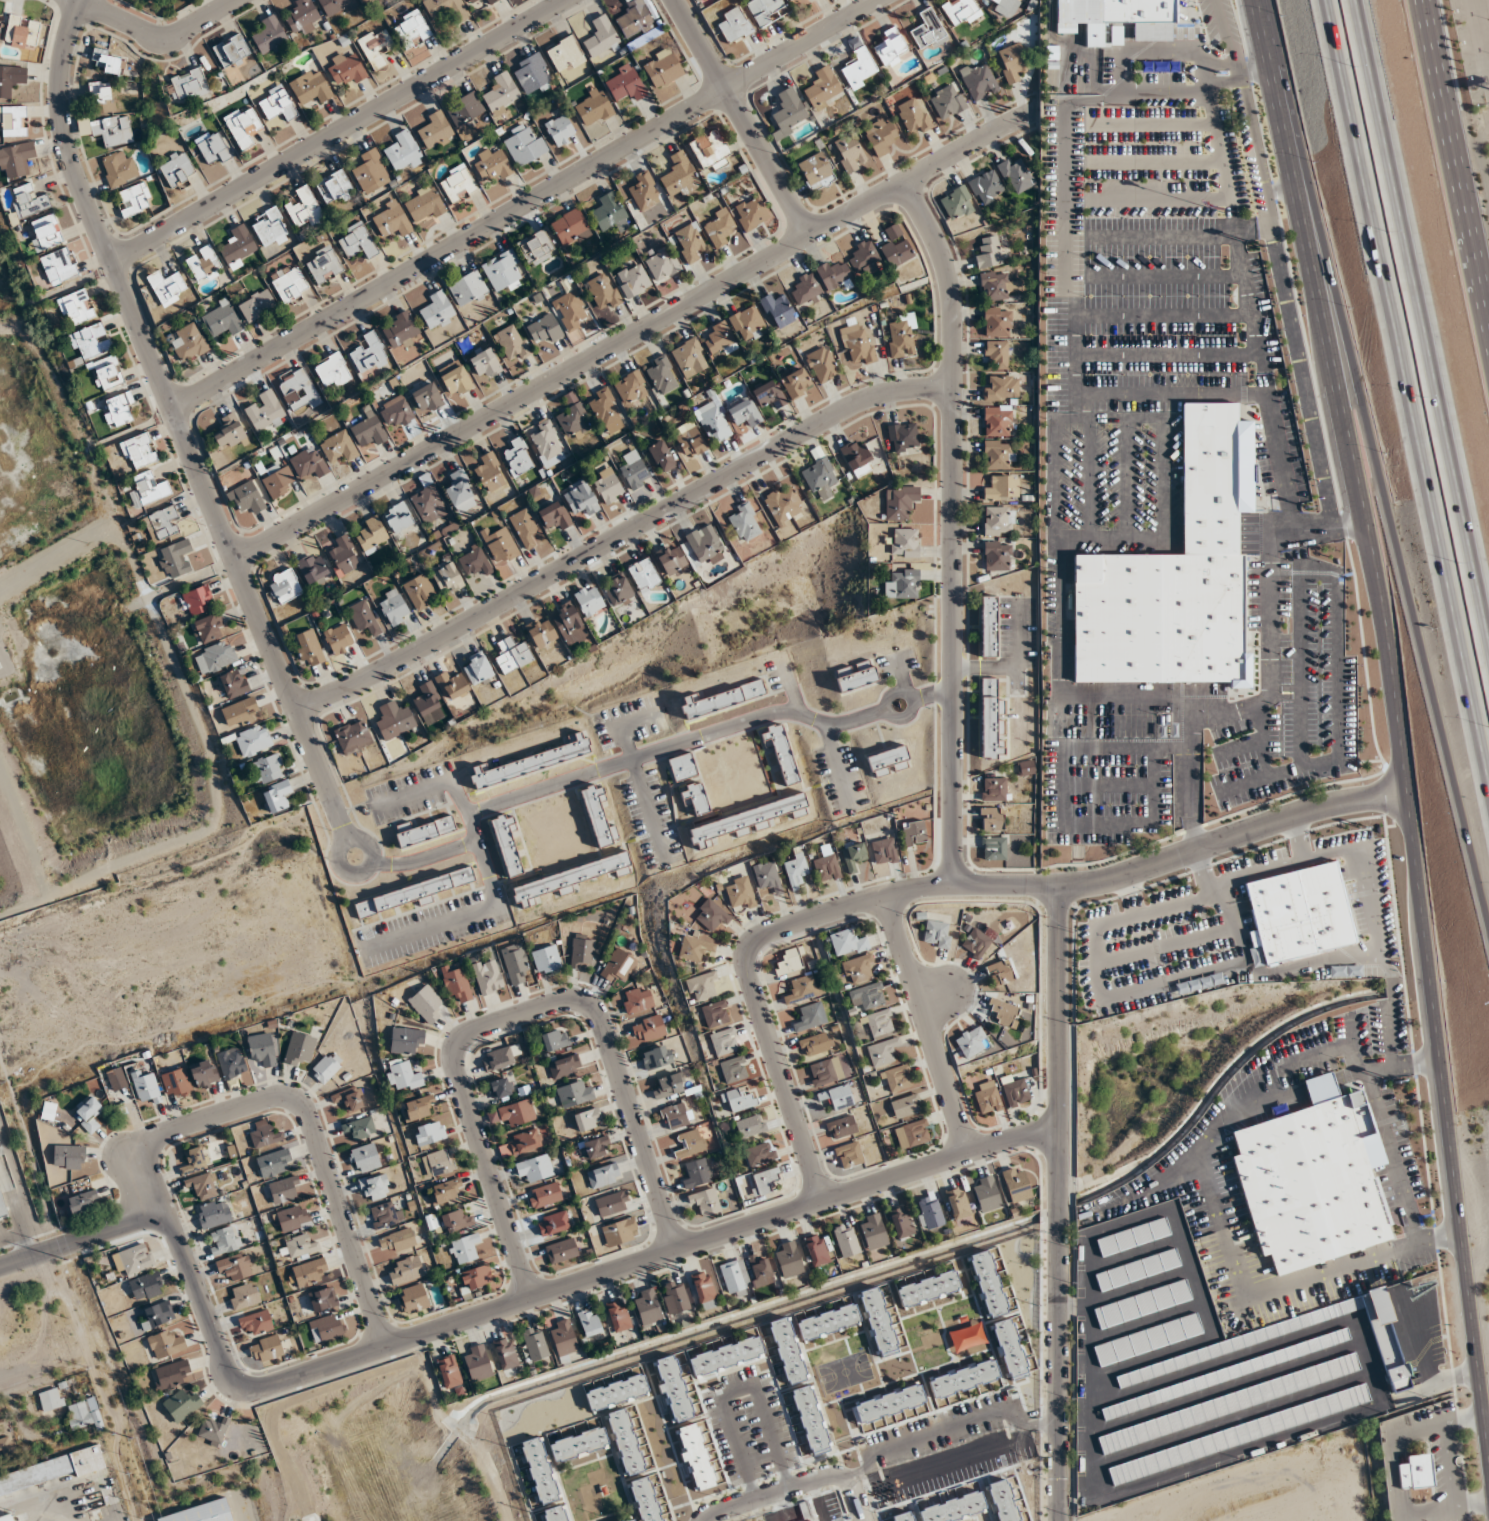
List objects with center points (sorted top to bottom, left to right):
building: (472, 1)
building: (489, 2)
building: (1003, 2)
building: (336, 6)
building: (446, 8)
building: (763, 9)
building: (960, 10)
building: (1121, 15)
building: (302, 16)
building: (635, 20)
building: (735, 25)
building: (411, 29)
building: (928, 31)
building: (21, 33)
building: (269, 34)
road: (158, 36)
road: (1226, 37)
road: (1263, 37)
building: (601, 38)
road: (1478, 43)
building: (376, 47)
building: (892, 47)
building: (232, 50)
building: (565, 54)
building: (108, 61)
building: (1012, 62)
building: (346, 68)
building: (662, 68)
building: (860, 68)
building: (533, 74)
road: (1122, 74)
road: (1256, 74)
building: (979, 79)
building: (11, 80)
building: (625, 83)
building: (189, 84)
building: (311, 86)
building: (822, 88)
building: (501, 91)
building: (100, 93)
building: (947, 101)
building: (276, 104)
building: (593, 107)
building: (464, 108)
building: (787, 111)
building: (914, 116)
road: (740, 117)
building: (13, 121)
building: (242, 126)
road: (335, 129)
building: (112, 130)
building: (436, 130)
building: (560, 130)
building: (882, 137)
building: (524, 145)
building: (214, 148)
building: (710, 150)
building: (403, 152)
building: (850, 153)
building: (16, 159)
road: (1064, 160)
road: (1457, 160)
building: (492, 163)
building: (177, 168)
building: (118, 169)
building: (371, 170)
building: (816, 171)
building: (1016, 174)
building: (679, 175)
road: (1226, 180)
building: (457, 183)
building: (334, 186)
building: (986, 187)
building: (645, 191)
building: (133, 200)
building: (28, 201)
road: (523, 203)
building: (956, 203)
building: (424, 204)
building: (305, 208)
building: (751, 212)
building: (611, 213)
building: (392, 220)
building: (570, 228)
building: (719, 228)
building: (270, 229)
building: (46, 232)
building: (357, 240)
building: (690, 241)
building: (897, 244)
building: (238, 247)
building: (536, 248)
building: (988, 252)
building: (864, 257)
building: (204, 264)
building: (323, 264)
building: (662, 265)
building: (59, 266)
building: (503, 271)
building: (834, 275)
building: (633, 279)
building: (289, 284)
building: (997, 285)
building: (166, 286)
building: (468, 289)
road: (813, 289)
road: (1076, 289)
building: (806, 290)
building: (603, 292)
road: (1290, 301)
road: (1425, 303)
building: (256, 305)
building: (76, 307)
building: (437, 310)
building: (570, 310)
building: (778, 310)
building: (221, 318)
building: (997, 322)
building: (747, 323)
building: (544, 328)
building: (401, 330)
road: (628, 335)
building: (718, 337)
building: (901, 337)
building: (88, 341)
building: (511, 341)
building: (188, 342)
building: (857, 343)
building: (997, 353)
building: (370, 354)
building: (689, 357)
building: (485, 363)
building: (823, 364)
building: (332, 370)
building: (107, 372)
building: (661, 374)
building: (455, 378)
building: (796, 383)
building: (630, 387)
building: (1000, 388)
building: (297, 389)
building: (769, 394)
building: (427, 397)
building: (118, 409)
building: (264, 411)
building: (397, 411)
building: (606, 411)
building: (744, 411)
road: (1403, 411)
building: (573, 422)
building: (713, 422)
building: (997, 422)
road: (177, 423)
building: (369, 431)
building: (229, 432)
building: (903, 436)
building: (546, 440)
building: (691, 442)
building: (339, 447)
building: (139, 450)
building: (998, 454)
building: (519, 456)
building: (662, 456)
building: (856, 456)
building: (308, 463)
building: (634, 470)
building: (490, 472)
building: (819, 478)
building: (277, 480)
building: (608, 486)
building: (1003, 487)
building: (148, 489)
road: (1384, 489)
building: (460, 493)
building: (247, 497)
building: (581, 498)
building: (900, 502)
building: (400, 516)
building: (555, 516)
building: (999, 521)
building: (744, 522)
building: (162, 525)
building: (525, 528)
road: (952, 529)
road: (619, 531)
building: (372, 535)
building: (705, 543)
building: (904, 543)
building: (501, 546)
building: (343, 554)
building: (996, 556)
building: (175, 559)
building: (672, 559)
building: (474, 560)
building: (312, 568)
building: (1175, 574)
building: (644, 575)
building: (447, 577)
building: (902, 584)
building: (285, 585)
building: (617, 590)
building: (420, 591)
building: (197, 600)
building: (589, 600)
road: (1060, 603)
building: (393, 607)
building: (364, 617)
building: (570, 624)
building: (988, 626)
building: (208, 628)
building: (541, 632)
building: (338, 639)
building: (308, 648)
building: (512, 655)
building: (215, 657)
building: (477, 668)
road: (1269, 672)
building: (856, 677)
building: (234, 683)
building: (452, 685)
road: (932, 692)
building: (427, 699)
building: (721, 699)
building: (240, 712)
building: (394, 720)
building: (991, 721)
building: (353, 736)
building: (253, 740)
road: (660, 749)
building: (780, 752)
road: (1400, 759)
building: (888, 761)
building: (532, 762)
building: (682, 767)
building: (1026, 767)
building: (268, 768)
building: (993, 788)
building: (275, 796)
building: (695, 797)
building: (598, 816)
building: (991, 818)
building: (744, 821)
building: (424, 831)
building: (914, 833)
building: (506, 843)
building: (993, 847)
building: (884, 851)
building: (853, 855)
road: (336, 861)
building: (826, 864)
building: (795, 870)
building: (767, 877)
building: (567, 880)
road: (944, 885)
building: (409, 894)
building: (740, 894)
building: (1297, 913)
building: (711, 916)
building: (937, 934)
building: (848, 943)
building: (976, 943)
building: (695, 949)
building: (581, 950)
building: (546, 959)
building: (790, 961)
building: (515, 964)
building: (618, 967)
building: (859, 969)
building: (1345, 971)
building: (998, 972)
building: (487, 976)
building: (457, 984)
building: (702, 986)
building: (802, 990)
building: (867, 996)
building: (637, 999)
building: (427, 1004)
building: (1004, 1013)
building: (715, 1014)
road: (519, 1015)
building: (810, 1016)
building: (879, 1024)
road: (927, 1025)
building: (649, 1028)
building: (406, 1040)
building: (554, 1040)
building: (970, 1041)
building: (724, 1042)
building: (815, 1044)
building: (298, 1048)
building: (261, 1049)
building: (882, 1052)
building: (656, 1057)
building: (500, 1058)
road: (1356, 1060)
building: (231, 1062)
building: (564, 1066)
building: (326, 1067)
building: (734, 1070)
building: (822, 1073)
building: (204, 1074)
building: (403, 1075)
road: (1347, 1075)
building: (897, 1078)
building: (176, 1082)
building: (669, 1085)
road: (1318, 1087)
building: (147, 1088)
building: (501, 1088)
building: (1014, 1091)
building: (574, 1093)
building: (837, 1096)
building: (987, 1097)
building: (349, 1100)
building: (737, 1100)
road: (303, 1106)
building: (906, 1106)
building: (416, 1108)
building: (517, 1113)
building: (88, 1114)
building: (676, 1116)
building: (587, 1119)
building: (750, 1127)
building: (841, 1127)
building: (360, 1128)
building: (428, 1133)
building: (912, 1134)
building: (264, 1137)
building: (524, 1141)
building: (690, 1144)
building: (596, 1146)
building: (760, 1154)
building: (849, 1155)
road: (1390, 1156)
building: (69, 1157)
building: (364, 1158)
building: (194, 1162)
building: (438, 1162)
building: (272, 1163)
road: (1196, 1164)
building: (534, 1169)
building: (697, 1173)
building: (603, 1175)
building: (1313, 1177)
building: (764, 1180)
building: (1016, 1184)
building: (203, 1185)
building: (375, 1187)
building: (284, 1190)
building: (444, 1191)
building: (986, 1194)
building: (544, 1195)
building: (705, 1201)
building: (80, 1202)
building: (612, 1203)
building: (957, 1203)
road: (1057, 1205)
building: (2, 1207)
building: (929, 1212)
building: (213, 1213)
building: (385, 1214)
building: (293, 1218)
building: (1091, 1218)
building: (454, 1221)
building: (901, 1222)
building: (553, 1223)
building: (620, 1231)
building: (872, 1231)
building: (1133, 1237)
road: (1438, 1237)
road: (82, 1239)
building: (224, 1240)
building: (846, 1240)
building: (398, 1241)
building: (298, 1247)
building: (463, 1249)
building: (816, 1250)
building: (561, 1251)
road: (1132, 1253)
building: (133, 1260)
building: (789, 1260)
building: (233, 1268)
building: (1137, 1269)
building: (406, 1271)
road: (1328, 1271)
building: (310, 1273)
building: (761, 1273)
building: (475, 1277)
building: (735, 1278)
building: (987, 1284)
road: (1138, 1285)
building: (146, 1286)
road: (559, 1288)
building: (928, 1289)
building: (704, 1290)
building: (244, 1296)
building: (674, 1296)
building: (322, 1299)
building: (413, 1299)
building: (1143, 1304)
building: (647, 1307)
building: (158, 1315)
building: (618, 1315)
road: (1144, 1319)
building: (256, 1321)
building: (589, 1322)
building: (828, 1322)
building: (878, 1322)
building: (326, 1328)
building: (563, 1339)
building: (1148, 1339)
building: (535, 1343)
road: (1267, 1343)
building: (165, 1344)
building: (1221, 1347)
building: (266, 1349)
building: (1010, 1349)
building: (787, 1350)
building: (505, 1354)
building: (726, 1355)
road: (1422, 1360)
building: (477, 1363)
road: (1091, 1367)
building: (449, 1372)
building: (1226, 1374)
building: (173, 1375)
road: (15, 1376)
building: (963, 1378)
road: (1228, 1385)
building: (672, 1388)
road: (737, 1390)
building: (617, 1392)
building: (51, 1399)
road: (9, 1401)
building: (182, 1403)
building: (888, 1403)
building: (85, 1414)
road: (1234, 1418)
building: (810, 1420)
building: (213, 1431)
road: (1014, 1435)
building: (625, 1442)
building: (579, 1444)
building: (6, 1447)
building: (696, 1456)
building: (539, 1470)
building: (51, 1471)
building: (1415, 1472)
road: (794, 1484)
building: (645, 1499)
building: (1003, 1500)
building: (954, 1508)
building: (804, 1511)
building: (201, 1513)
road: (278, 1513)
building: (555, 1513)
building: (903, 1516)
building: (6, 1517)
building: (630, 1520)

